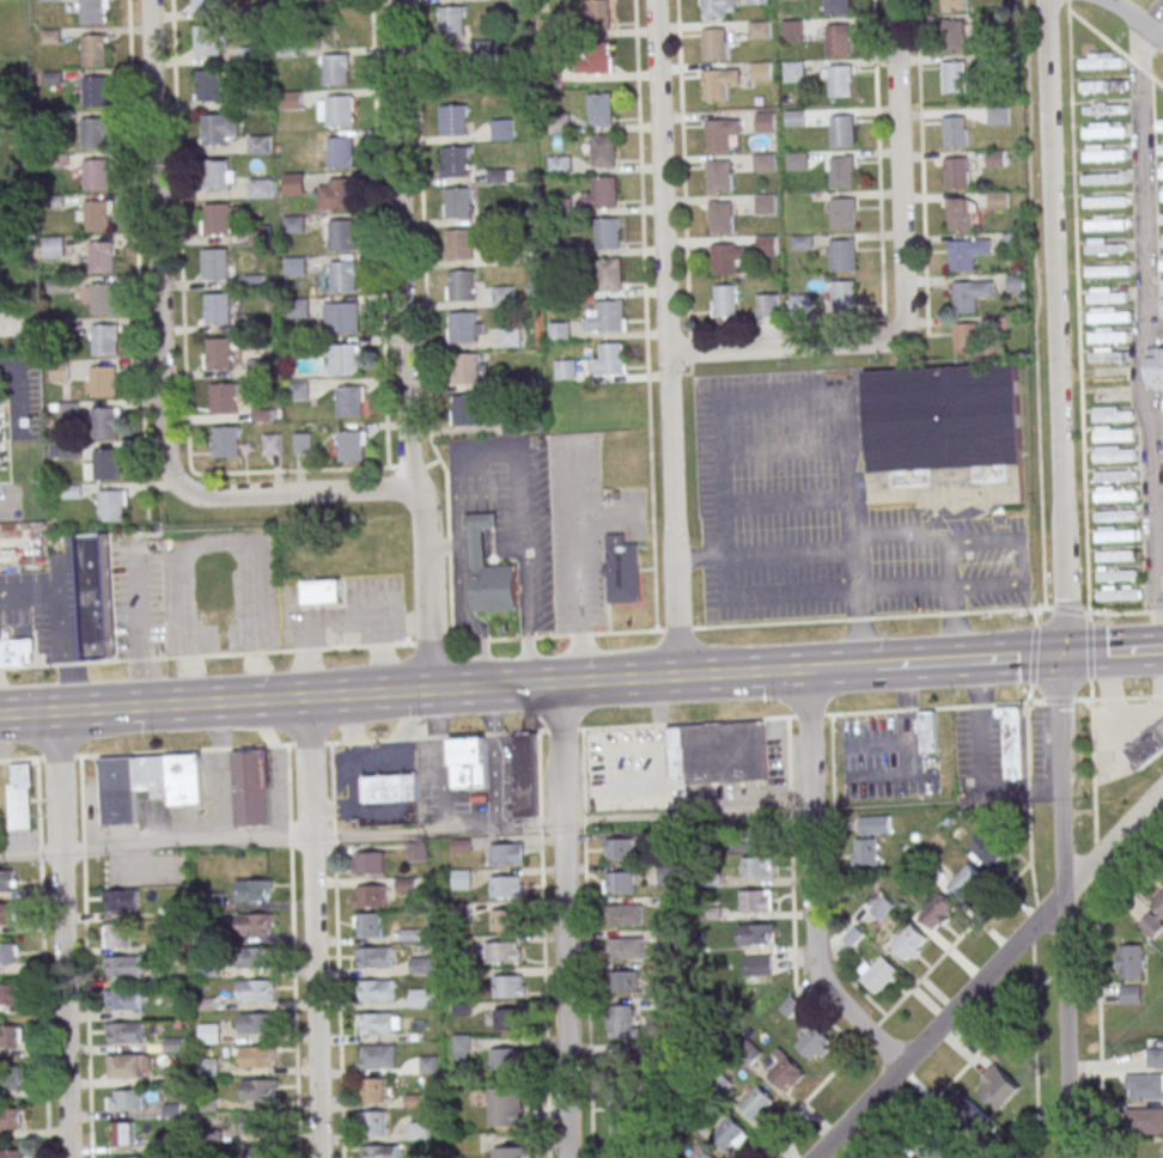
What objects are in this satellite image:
building: (331, 0)
building: (757, 1)
building: (205, 5)
building: (952, 5)
building: (836, 6)
building: (717, 7)
road: (1121, 8)
building: (92, 11)
building: (595, 14)
building: (451, 20)
building: (548, 26)
road: (1150, 28)
building: (759, 29)
building: (791, 30)
building: (952, 36)
building: (207, 39)
building: (838, 39)
building: (714, 43)
building: (485, 48)
building: (93, 49)
building: (248, 55)
building: (597, 57)
building: (1101, 60)
building: (335, 69)
building: (760, 71)
building: (793, 71)
building: (954, 77)
building: (840, 80)
building: (717, 83)
building: (1103, 83)
building: (208, 85)
building: (95, 91)
building: (291, 99)
building: (1104, 108)
building: (598, 109)
building: (340, 110)
building: (998, 115)
building: (793, 117)
building: (453, 118)
building: (765, 121)
building: (1159, 124)
building: (501, 128)
building: (213, 129)
building: (1104, 129)
building: (842, 130)
building: (955, 132)
building: (93, 133)
building: (720, 133)
building: (1159, 146)
building: (601, 151)
building: (340, 152)
building: (1104, 153)
building: (995, 158)
road: (878, 159)
building: (455, 160)
building: (794, 160)
building: (762, 161)
road: (921, 166)
road: (897, 167)
building: (1161, 170)
building: (840, 172)
building: (957, 172)
building: (95, 175)
building: (215, 175)
building: (718, 176)
building: (1103, 178)
building: (293, 183)
road: (682, 187)
building: (261, 188)
building: (603, 191)
building: (341, 193)
building: (1162, 193)
building: (998, 200)
building: (1104, 201)
building: (457, 202)
building: (765, 203)
building: (842, 213)
building: (961, 214)
building: (1161, 215)
building: (97, 217)
building: (720, 217)
building: (217, 218)
building: (1104, 223)
building: (607, 232)
building: (342, 234)
building: (800, 240)
building: (1013, 240)
building: (1161, 240)
road: (156, 244)
building: (461, 244)
building: (766, 245)
building: (1104, 245)
building: (53, 246)
building: (967, 252)
building: (842, 254)
building: (101, 257)
road: (136, 258)
building: (723, 258)
building: (1162, 262)
building: (214, 263)
building: (296, 266)
building: (1107, 270)
building: (608, 274)
building: (343, 276)
building: (1015, 282)
building: (461, 285)
building: (1162, 285)
building: (970, 294)
building: (1107, 294)
building: (503, 295)
building: (844, 297)
building: (103, 298)
building: (726, 300)
building: (799, 304)
road: (1034, 304)
building: (768, 305)
building: (218, 307)
building: (298, 307)
building: (1162, 310)
road: (644, 313)
building: (1108, 315)
building: (342, 316)
building: (609, 316)
building: (462, 327)
building: (559, 330)
road: (1149, 333)
building: (1108, 335)
building: (510, 336)
road: (664, 337)
building: (966, 337)
building: (104, 340)
road: (402, 346)
road: (781, 347)
building: (219, 352)
building: (1108, 354)
building: (610, 358)
building: (345, 359)
road: (183, 361)
building: (257, 367)
building: (465, 367)
building: (1155, 367)
building: (565, 368)
building: (103, 380)
building: (299, 390)
road: (18, 395)
road: (778, 397)
building: (224, 398)
building: (349, 401)
building: (464, 409)
building: (1113, 413)
building: (104, 422)
building: (1114, 433)
building: (944, 434)
building: (225, 441)
building: (303, 441)
building: (270, 443)
building: (352, 445)
road: (781, 449)
road: (482, 456)
building: (0, 457)
building: (1114, 463)
building: (103, 464)
road: (293, 492)
building: (1115, 494)
road: (785, 501)
building: (111, 505)
parking lot: (824, 511)
road: (2, 513)
road: (608, 514)
building: (1115, 514)
building: (1115, 534)
road: (896, 537)
road: (440, 547)
building: (1115, 554)
road: (784, 555)
road: (580, 560)
road: (1018, 563)
road: (950, 566)
building: (620, 568)
building: (489, 571)
building: (1116, 573)
road: (1065, 579)
road: (869, 590)
building: (322, 591)
building: (1118, 592)
parking lot: (134, 593)
building: (93, 595)
road: (772, 598)
road: (1067, 610)
road: (1155, 611)
road: (1114, 614)
road: (1088, 615)
road: (1034, 617)
road: (957, 623)
road: (140, 626)
road: (525, 636)
road: (1089, 647)
building: (16, 651)
road: (1112, 652)
road: (1033, 656)
traffic signals: (1060, 656)
road: (969, 660)
road: (854, 666)
road: (1161, 674)
road: (414, 690)
road: (1156, 695)
road: (1137, 696)
road: (1110, 697)
road: (1082, 699)
road: (1095, 699)
road: (1058, 700)
road: (1112, 713)
road: (1135, 714)
road: (351, 727)
parking lot: (1132, 727)
road: (402, 732)
building: (926, 732)
building: (1012, 739)
road: (875, 742)
road: (340, 743)
building: (1146, 744)
road: (622, 748)
road: (908, 750)
building: (717, 751)
road: (560, 752)
road: (494, 756)
road: (979, 758)
road: (18, 760)
road: (439, 760)
road: (1092, 760)
road: (351, 762)
building: (467, 762)
road: (659, 764)
road: (220, 773)
building: (524, 774)
building: (147, 782)
building: (250, 787)
building: (390, 787)
road: (396, 787)
building: (20, 796)
road: (1028, 796)
road: (355, 807)
road: (687, 815)
building: (875, 824)
road: (312, 836)
building: (745, 843)
building: (458, 845)
building: (619, 848)
building: (990, 849)
building: (416, 851)
building: (866, 851)
road: (1096, 851)
building: (505, 853)
road: (30, 854)
building: (367, 861)
building: (756, 867)
building: (6, 880)
building: (966, 880)
building: (619, 882)
road: (811, 883)
building: (505, 886)
building: (254, 891)
building: (370, 895)
building: (120, 901)
building: (755, 901)
road: (1118, 903)
building: (7, 913)
building: (938, 913)
building: (623, 914)
building: (1152, 918)
building: (504, 920)
road: (1033, 924)
building: (255, 925)
building: (367, 925)
road: (312, 927)
building: (755, 933)
road: (62, 934)
building: (116, 934)
building: (908, 943)
building: (626, 947)
road: (337, 950)
road: (293, 951)
building: (503, 952)
building: (8, 953)
road: (85, 957)
building: (375, 957)
building: (255, 958)
road: (1065, 961)
building: (1129, 961)
building: (420, 964)
building: (123, 965)
building: (756, 967)
building: (207, 968)
building: (877, 973)
road: (987, 973)
building: (623, 981)
building: (509, 986)
building: (376, 989)
road: (565, 989)
building: (257, 991)
building: (1128, 993)
building: (7, 994)
building: (420, 997)
building: (123, 999)
road: (891, 1010)
building: (507, 1018)
building: (621, 1022)
building: (378, 1023)
building: (257, 1024)
building: (123, 1032)
building: (209, 1032)
building: (10, 1036)
road: (1098, 1042)
building: (814, 1043)
road: (1034, 1049)
building: (378, 1055)
building: (257, 1056)
building: (505, 1058)
building: (1155, 1058)
road: (968, 1063)
building: (129, 1065)
building: (623, 1066)
building: (785, 1071)
building: (11, 1078)
building: (1144, 1086)
building: (997, 1087)
building: (258, 1089)
building: (373, 1090)
building: (123, 1099)
building: (756, 1102)
building: (506, 1105)
building: (626, 1115)
building: (972, 1115)
building: (10, 1120)
building: (1145, 1120)
building: (260, 1122)
building: (373, 1123)
building: (730, 1133)
building: (123, 1134)
building: (261, 1151)
building: (380, 1151)
building: (933, 1151)
building: (510, 1152)
building: (700, 1153)
building: (12, 1154)
building: (129, 1157)

